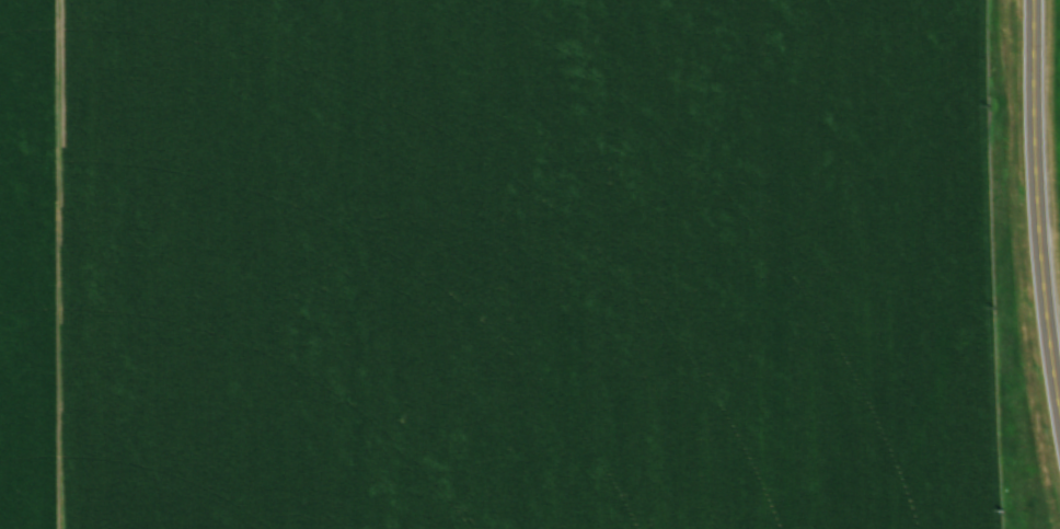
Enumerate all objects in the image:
road: (1038, 186)

